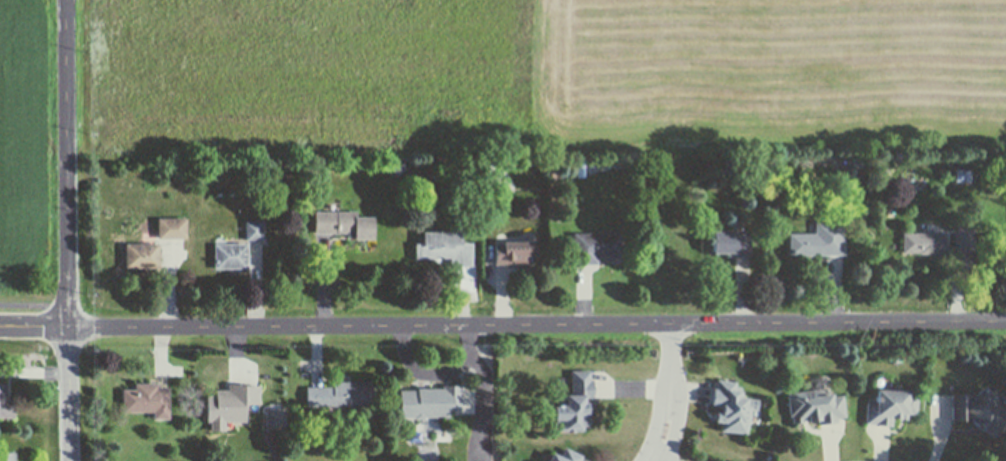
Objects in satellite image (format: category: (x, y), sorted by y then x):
road: (73, 66)
crop: (542, 73)
crop: (29, 154)
building: (846, 161)
building: (858, 162)
building: (729, 164)
building: (313, 167)
building: (489, 167)
building: (430, 168)
building: (582, 168)
building: (767, 168)
building: (398, 169)
building: (961, 175)
building: (327, 181)
building: (219, 194)
building: (447, 206)
building: (332, 207)
building: (825, 219)
building: (493, 221)
building: (344, 225)
building: (171, 229)
building: (254, 231)
building: (966, 240)
building: (220, 241)
building: (820, 241)
building: (924, 243)
building: (732, 245)
building: (446, 248)
building: (596, 248)
building: (514, 255)
building: (231, 256)
building: (142, 257)
road: (70, 296)
road: (35, 304)
road: (537, 324)
road: (35, 327)
building: (740, 360)
building: (896, 362)
road: (436, 374)
building: (885, 384)
road: (673, 393)
building: (341, 394)
building: (147, 400)
building: (430, 403)
building: (575, 404)
building: (6, 405)
building: (229, 405)
building: (733, 408)
building: (816, 408)
building: (891, 408)
building: (342, 410)
building: (979, 412)
building: (278, 419)
building: (755, 425)
building: (334, 431)
building: (414, 437)
park: (994, 456)
building: (7, 457)
building: (568, 457)

